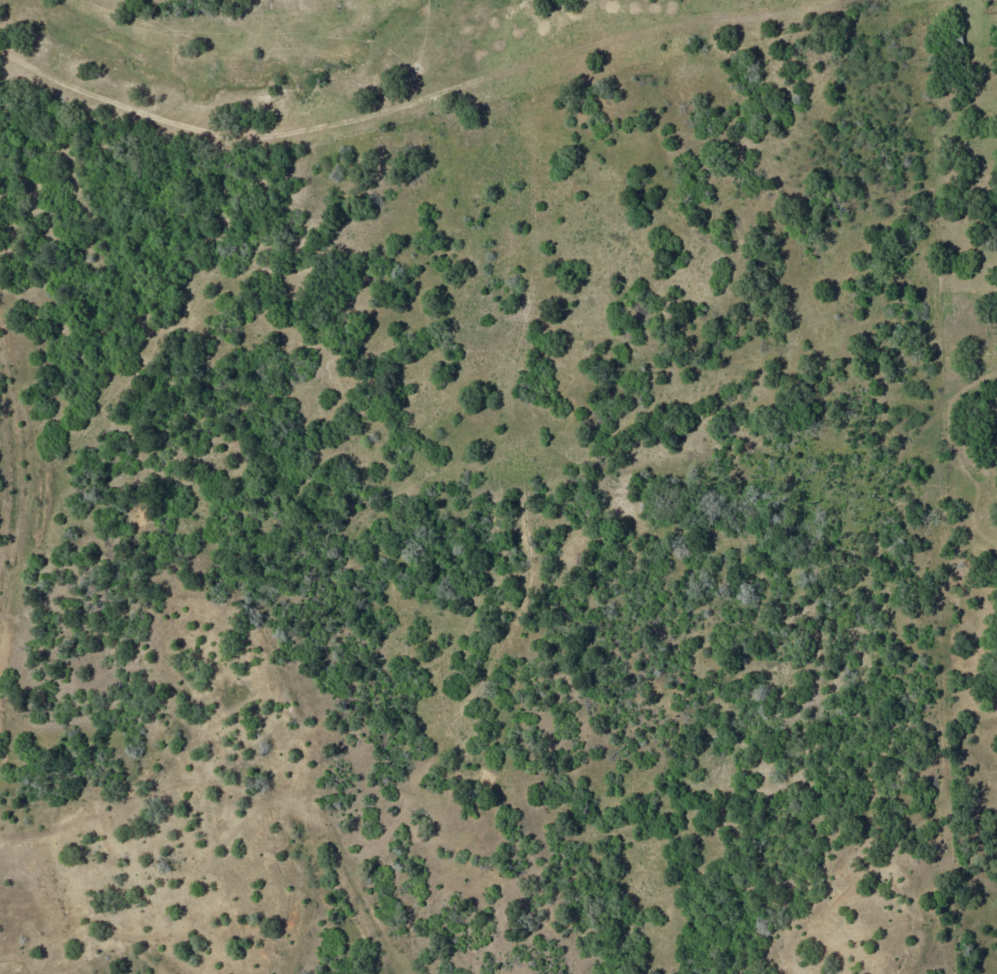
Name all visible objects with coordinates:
road: (369, 117)

